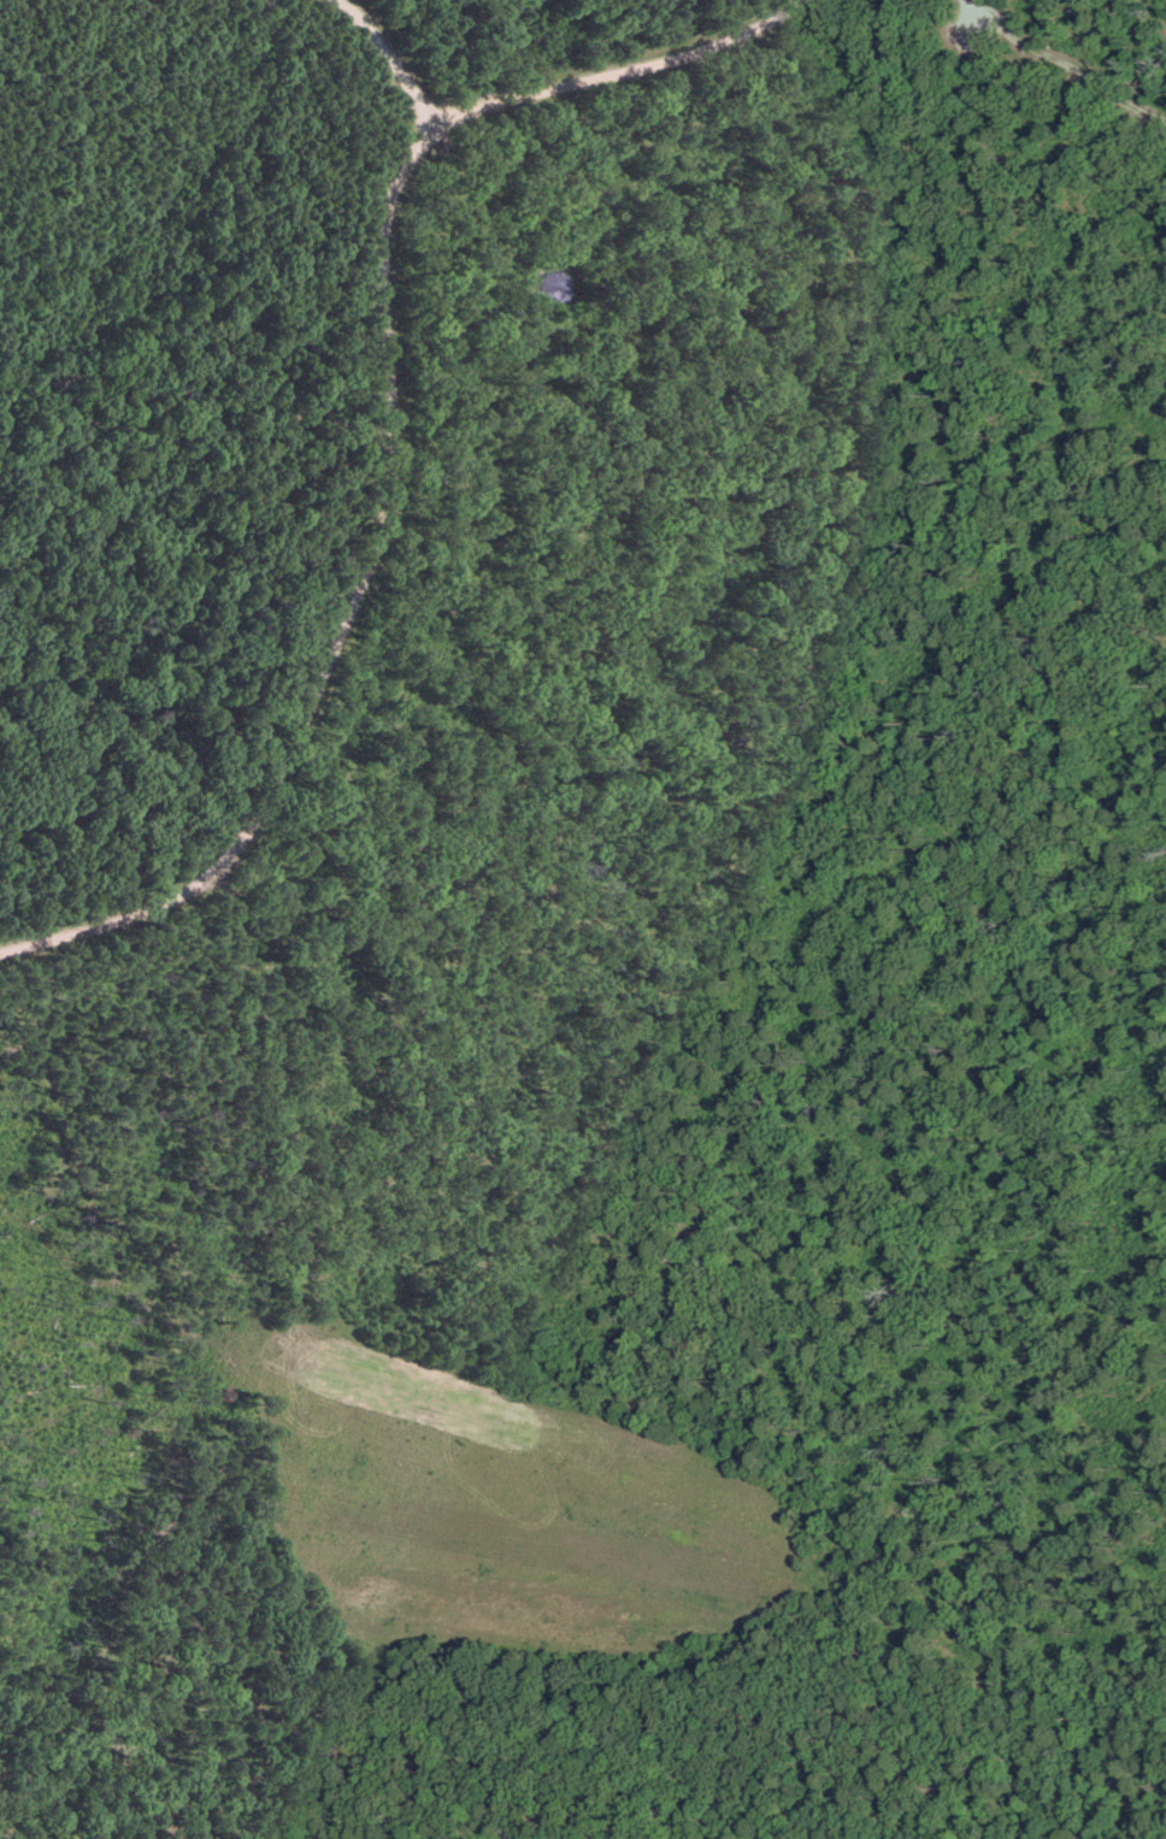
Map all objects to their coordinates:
road: (390, 60)
road: (389, 429)

